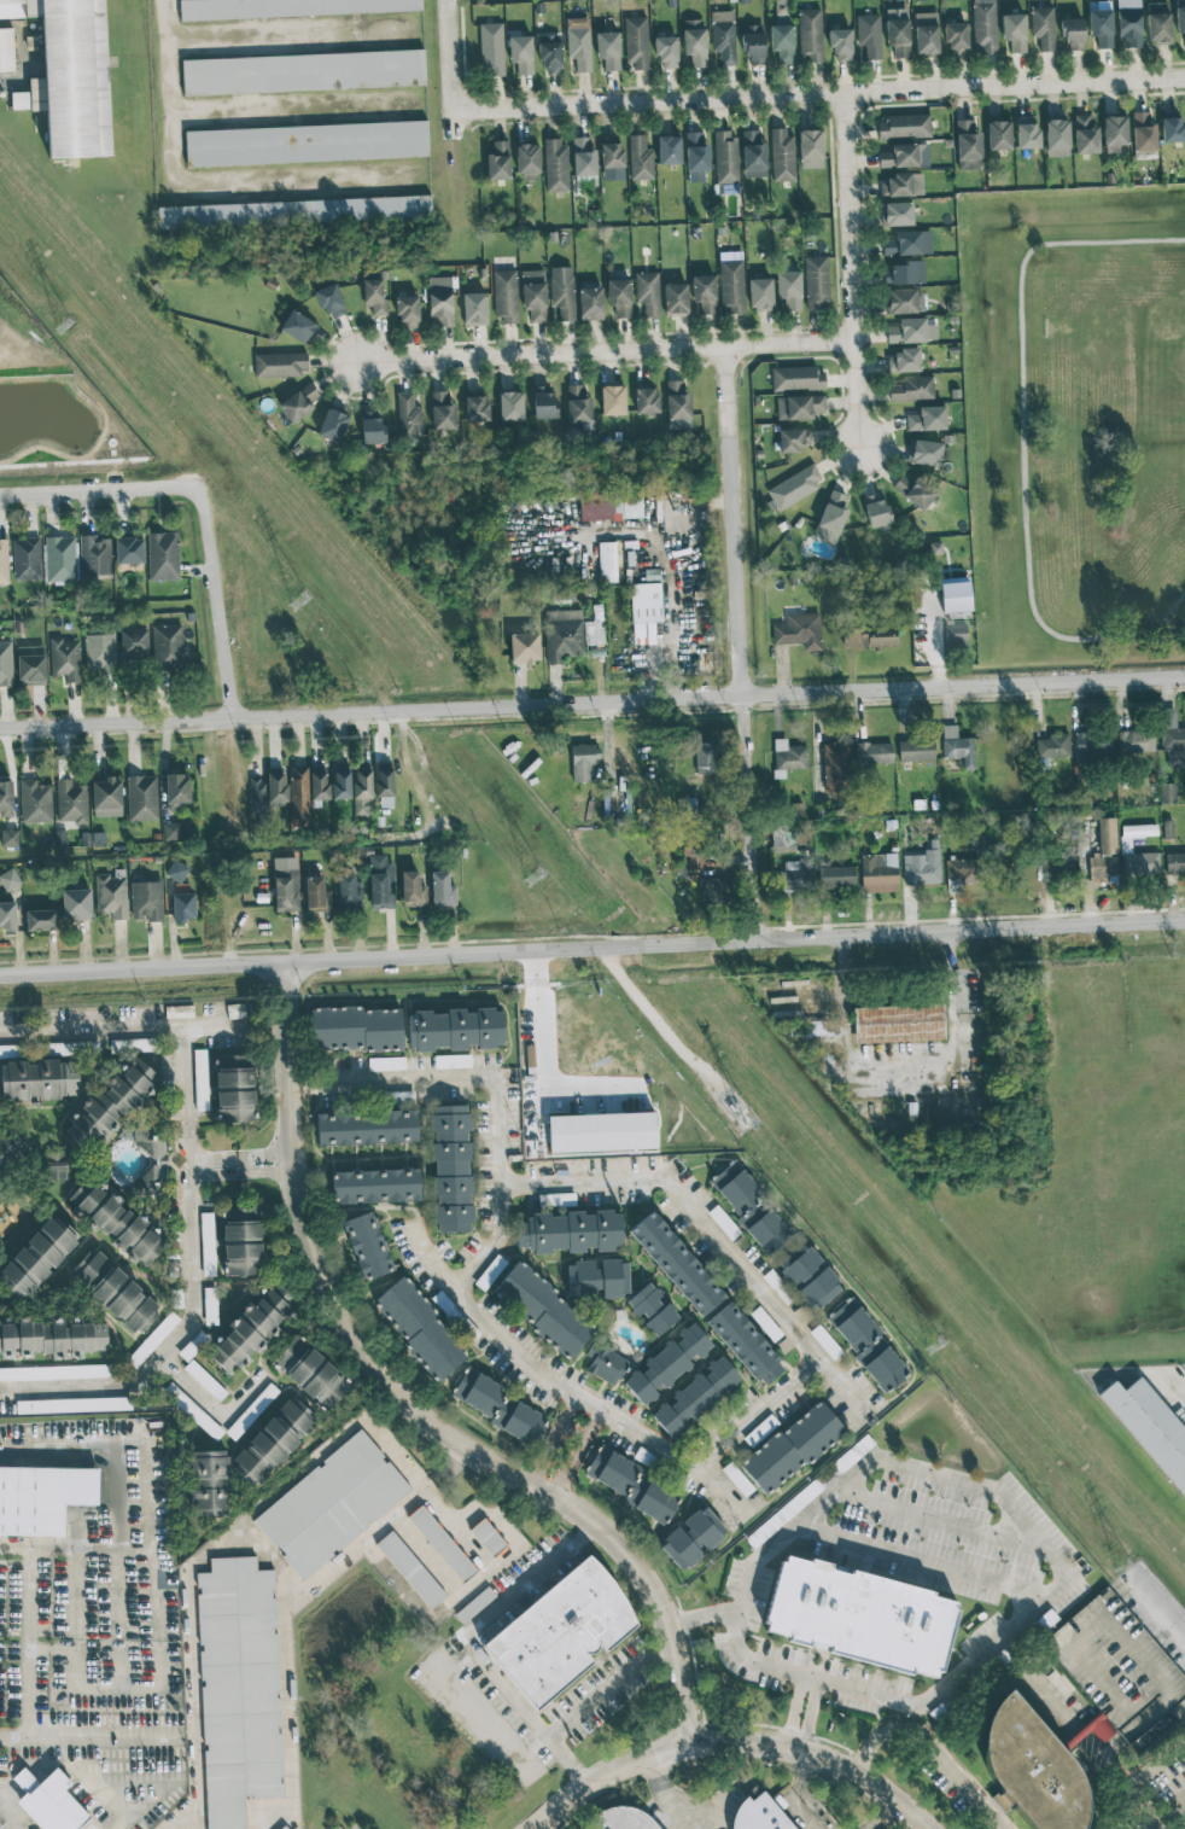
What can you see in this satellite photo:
building: (286, 8)
road: (290, 16)
building: (1180, 17)
building: (1128, 22)
building: (1157, 23)
building: (983, 25)
building: (1043, 27)
building: (1101, 27)
building: (1014, 31)
building: (1072, 33)
building: (926, 34)
building: (810, 35)
building: (869, 35)
building: (723, 36)
building: (955, 36)
building: (898, 37)
building: (636, 41)
building: (694, 41)
building: (578, 42)
building: (781, 42)
building: (753, 43)
building: (840, 43)
building: (490, 48)
building: (6, 49)
building: (607, 49)
building: (549, 51)
building: (665, 51)
building: (520, 54)
road: (448, 68)
building: (303, 72)
building: (69, 74)
road: (817, 95)
road: (239, 113)
building: (903, 126)
building: (1171, 126)
building: (1026, 132)
building: (1143, 132)
building: (1085, 134)
building: (1114, 134)
building: (998, 135)
building: (1056, 138)
building: (305, 144)
building: (967, 145)
building: (810, 148)
building: (669, 150)
building: (753, 155)
building: (781, 155)
building: (1144, 155)
building: (904, 156)
building: (583, 157)
building: (611, 157)
building: (696, 157)
building: (725, 157)
building: (640, 158)
building: (497, 159)
building: (527, 162)
building: (555, 165)
building: (903, 185)
building: (293, 211)
building: (897, 214)
building: (907, 243)
road: (850, 270)
building: (904, 272)
building: (816, 281)
building: (731, 286)
building: (561, 291)
building: (788, 291)
building: (647, 292)
building: (704, 293)
building: (759, 293)
building: (533, 295)
building: (374, 296)
building: (504, 296)
building: (618, 297)
building: (675, 298)
building: (439, 301)
building: (904, 301)
building: (331, 302)
building: (590, 303)
building: (473, 309)
building: (407, 311)
power tower: (64, 322)
building: (294, 325)
building: (911, 331)
road: (606, 351)
building: (903, 360)
building: (280, 365)
building: (798, 378)
building: (911, 389)
building: (612, 400)
building: (646, 401)
building: (299, 402)
building: (543, 402)
building: (474, 404)
building: (509, 406)
building: (577, 406)
building: (677, 406)
building: (798, 407)
building: (442, 412)
building: (408, 415)
building: (926, 419)
park: (1074, 423)
building: (332, 425)
building: (370, 426)
building: (793, 438)
road: (1022, 442)
building: (924, 452)
building: (794, 487)
building: (913, 490)
road: (98, 493)
building: (609, 506)
building: (875, 509)
building: (830, 517)
road: (732, 520)
building: (128, 551)
building: (162, 555)
building: (94, 558)
building: (25, 559)
building: (60, 559)
building: (607, 561)
building: (2, 563)
building: (955, 594)
power tower: (298, 600)
building: (644, 602)
road: (212, 605)
building: (799, 630)
building: (562, 634)
building: (955, 635)
road: (667, 636)
building: (869, 636)
building: (133, 643)
building: (168, 647)
building: (524, 648)
building: (99, 652)
building: (65, 659)
building: (5, 663)
building: (30, 665)
road: (591, 701)
building: (1172, 739)
building: (1134, 741)
building: (957, 746)
building: (1053, 746)
building: (1093, 746)
building: (915, 750)
building: (872, 753)
building: (704, 755)
building: (788, 755)
building: (582, 763)
building: (835, 767)
building: (319, 782)
building: (340, 782)
building: (384, 784)
building: (275, 785)
building: (176, 790)
building: (362, 790)
building: (1167, 793)
building: (257, 794)
building: (106, 797)
building: (298, 797)
building: (141, 798)
building: (6, 799)
building: (34, 802)
building: (70, 802)
road: (747, 817)
building: (171, 831)
building: (1107, 835)
building: (8, 838)
building: (60, 838)
building: (1126, 844)
building: (693, 857)
building: (1175, 862)
building: (1101, 866)
building: (922, 868)
building: (176, 872)
building: (878, 873)
building: (961, 873)
building: (795, 874)
power tower: (535, 875)
building: (835, 876)
building: (8, 879)
building: (380, 881)
building: (285, 884)
building: (345, 889)
building: (411, 889)
building: (440, 889)
building: (711, 891)
building: (111, 896)
building: (316, 896)
building: (146, 898)
building: (75, 904)
building: (182, 907)
building: (7, 915)
building: (40, 920)
road: (592, 948)
road: (210, 1021)
building: (898, 1023)
building: (356, 1029)
building: (455, 1029)
building: (7, 1052)
road: (548, 1060)
building: (451, 1061)
building: (385, 1064)
road: (901, 1064)
building: (39, 1079)
building: (199, 1079)
road: (297, 1079)
building: (234, 1088)
road: (503, 1088)
building: (399, 1096)
building: (110, 1103)
power tower: (746, 1119)
building: (366, 1128)
building: (6, 1153)
road: (264, 1153)
building: (150, 1155)
road: (211, 1155)
building: (451, 1169)
road: (265, 1170)
road: (212, 1173)
building: (374, 1186)
road: (187, 1190)
building: (749, 1206)
building: (115, 1222)
building: (723, 1222)
building: (570, 1231)
road: (711, 1233)
building: (240, 1241)
building: (206, 1245)
building: (367, 1246)
building: (35, 1258)
building: (676, 1264)
building: (490, 1272)
building: (809, 1275)
building: (597, 1278)
building: (777, 1286)
building: (113, 1291)
building: (541, 1307)
building: (652, 1310)
building: (419, 1328)
building: (249, 1329)
building: (51, 1338)
building: (824, 1341)
building: (745, 1344)
building: (866, 1344)
power tower: (934, 1345)
building: (667, 1363)
building: (605, 1364)
building: (54, 1373)
building: (310, 1373)
road: (558, 1384)
road: (1180, 1384)
building: (695, 1396)
road: (211, 1399)
road: (410, 1403)
building: (72, 1404)
road: (570, 1405)
building: (501, 1408)
building: (251, 1411)
road: (760, 1415)
road: (595, 1417)
building: (1150, 1427)
road: (573, 1429)
building: (759, 1429)
building: (272, 1441)
road: (71, 1446)
building: (792, 1448)
road: (545, 1450)
road: (572, 1462)
building: (736, 1479)
building: (209, 1483)
building: (631, 1484)
road: (117, 1495)
building: (43, 1496)
building: (331, 1504)
parking lot: (144, 1507)
building: (783, 1513)
road: (941, 1519)
building: (486, 1537)
building: (691, 1538)
building: (440, 1543)
road: (72, 1544)
road: (924, 1561)
road: (154, 1563)
power tower: (1123, 1567)
building: (409, 1568)
road: (1060, 1568)
road: (1163, 1603)
road: (121, 1614)
road: (75, 1615)
building: (859, 1615)
road: (702, 1617)
building: (559, 1632)
road: (27, 1644)
road: (468, 1644)
road: (37, 1647)
building: (1117, 1667)
road: (119, 1685)
road: (608, 1685)
building: (238, 1688)
parking lot: (91, 1691)
road: (795, 1708)
road: (1184, 1711)
road: (811, 1713)
road: (910, 1729)
road: (732, 1736)
road: (87, 1740)
building: (1032, 1771)
road: (953, 1780)
building: (93, 1783)
road: (800, 1792)
road: (666, 1796)
road: (1167, 1812)
road: (881, 1815)
building: (763, 1816)
road: (7, 1819)
building: (625, 1819)
road: (549, 1824)
road: (1161, 1825)
building: (284, 1828)

